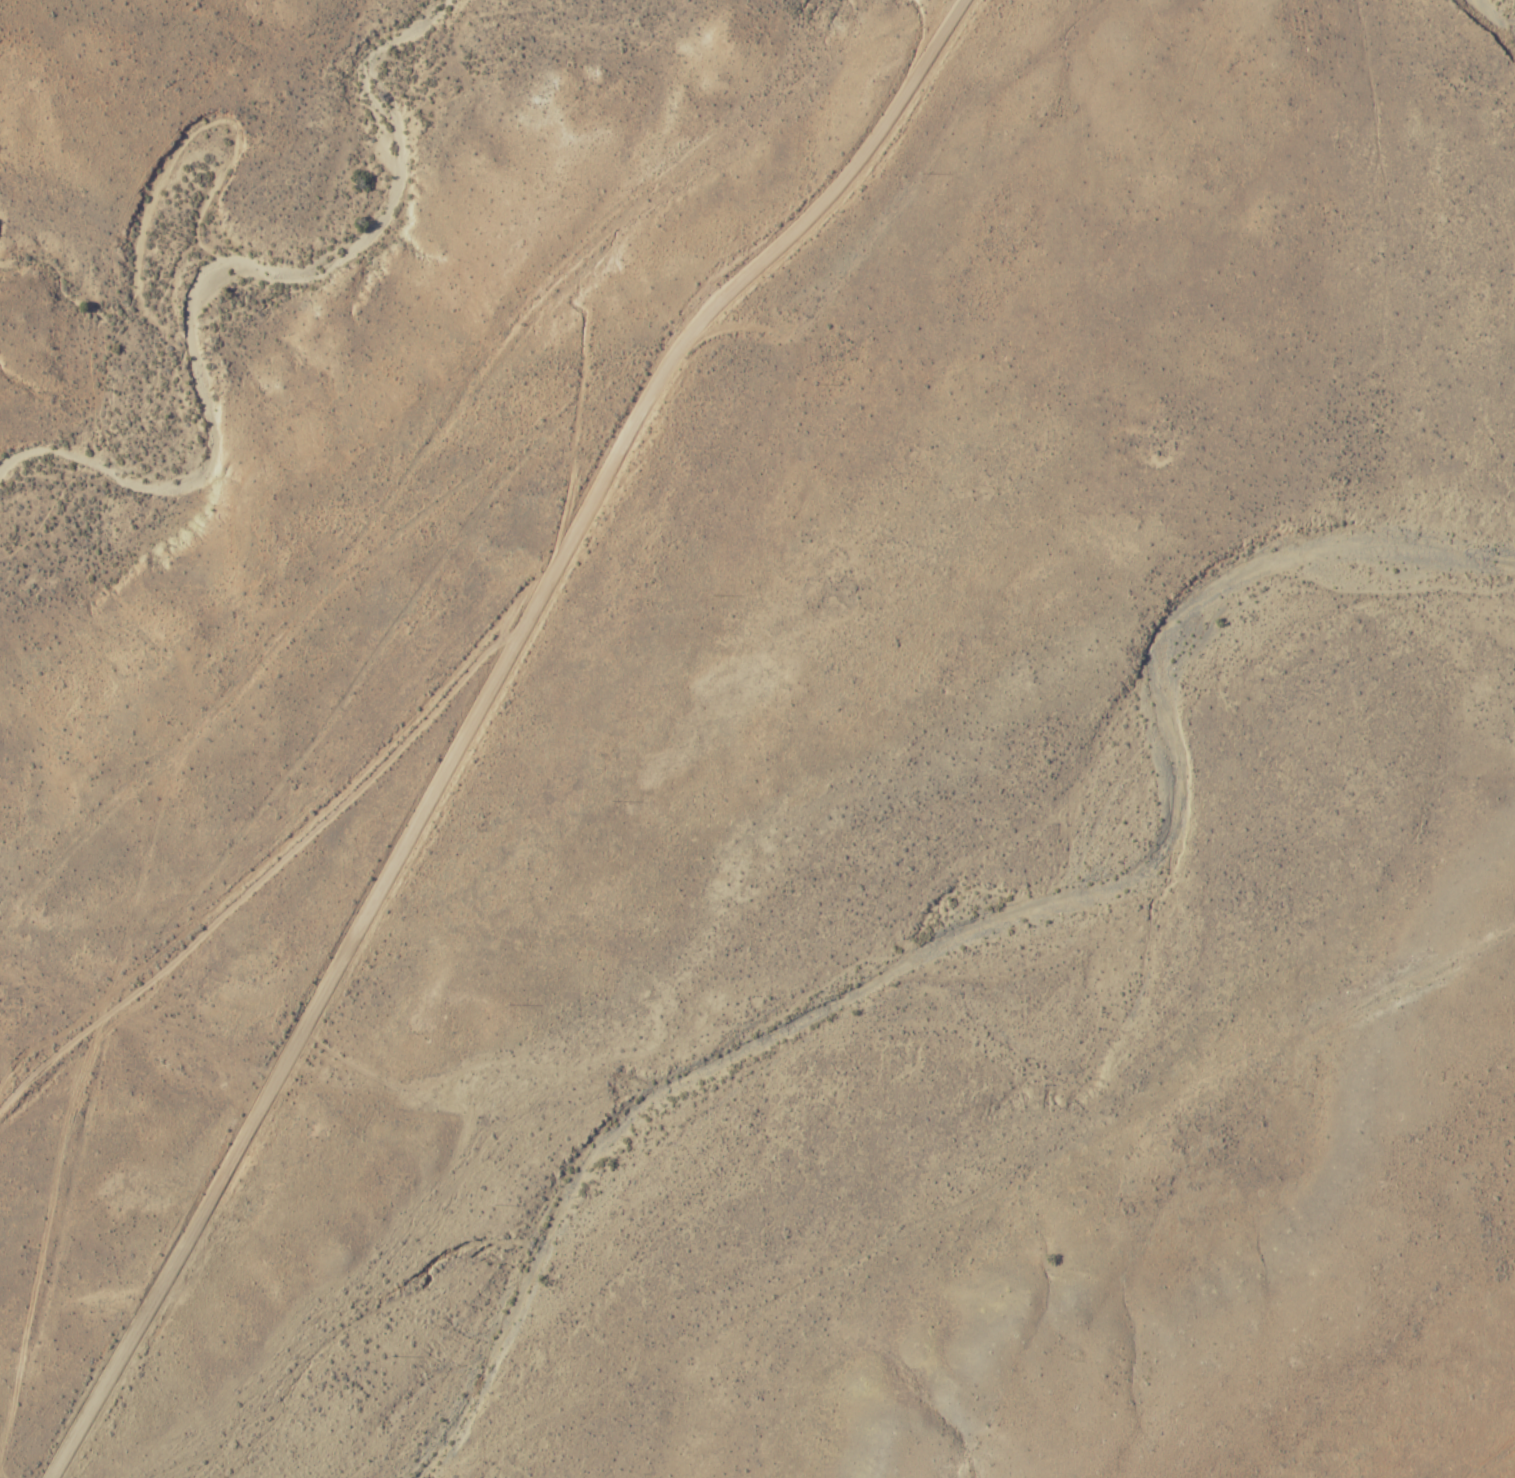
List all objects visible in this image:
river: (1514, 0)
road: (828, 186)
road: (530, 188)
road: (324, 718)
road: (362, 767)
road: (361, 918)
river: (961, 960)

